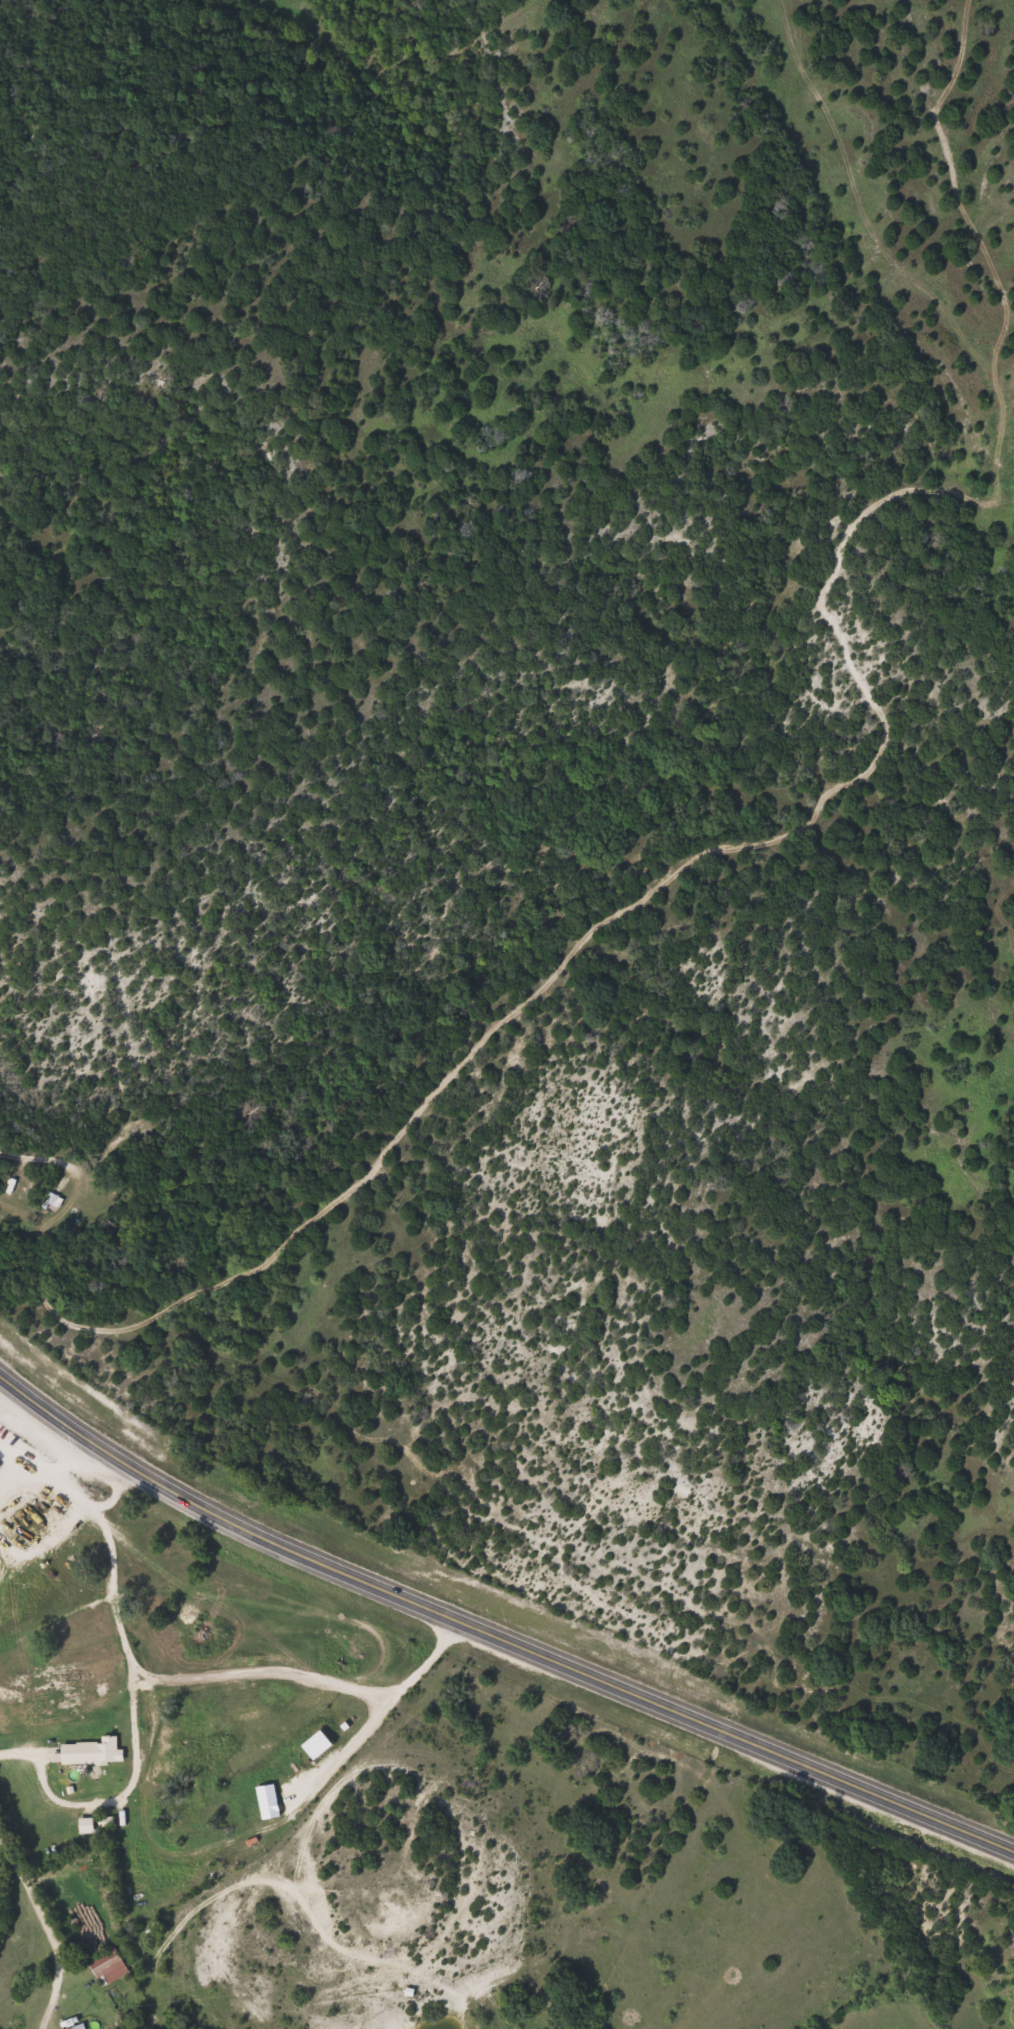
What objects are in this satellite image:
road: (468, 926)
building: (48, 1197)
road: (493, 1632)
road: (289, 1703)
building: (312, 1742)
building: (90, 1748)
road: (352, 1782)
building: (264, 1799)
building: (106, 1964)
building: (77, 2026)

